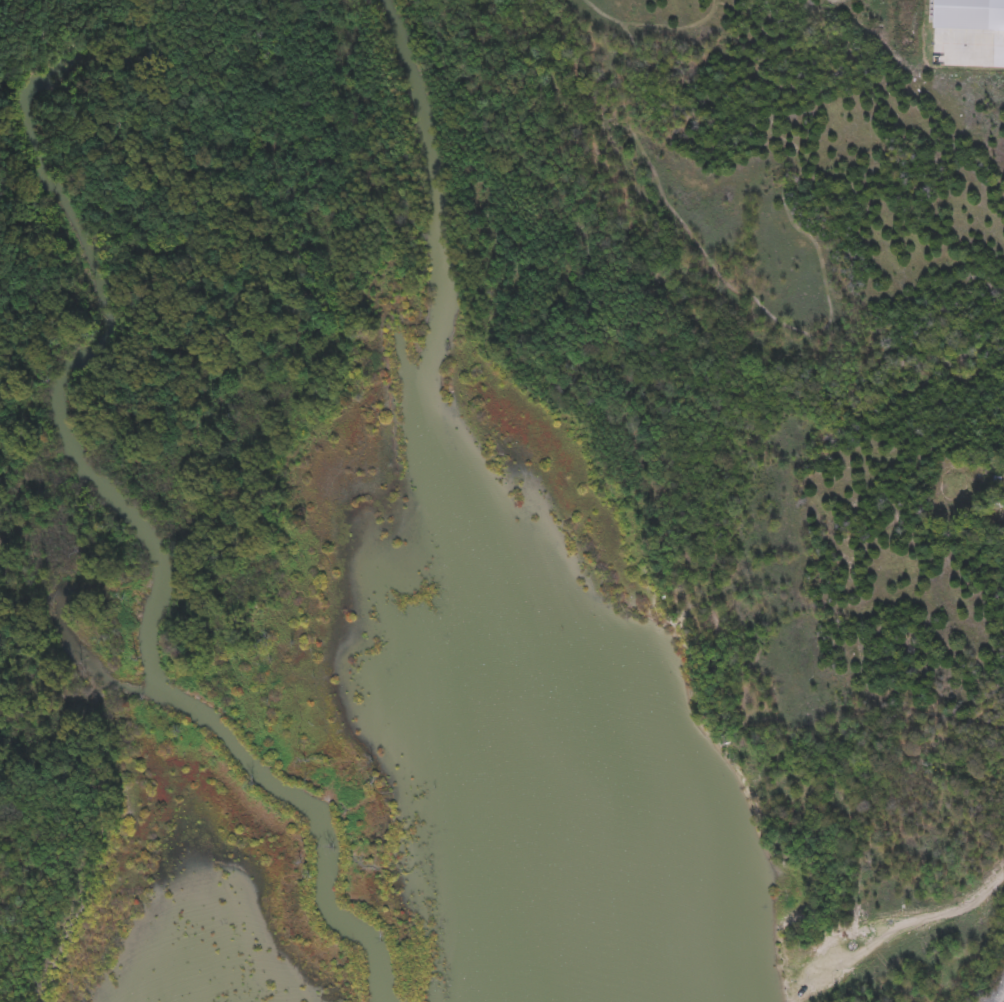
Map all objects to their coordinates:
road: (976, 54)

